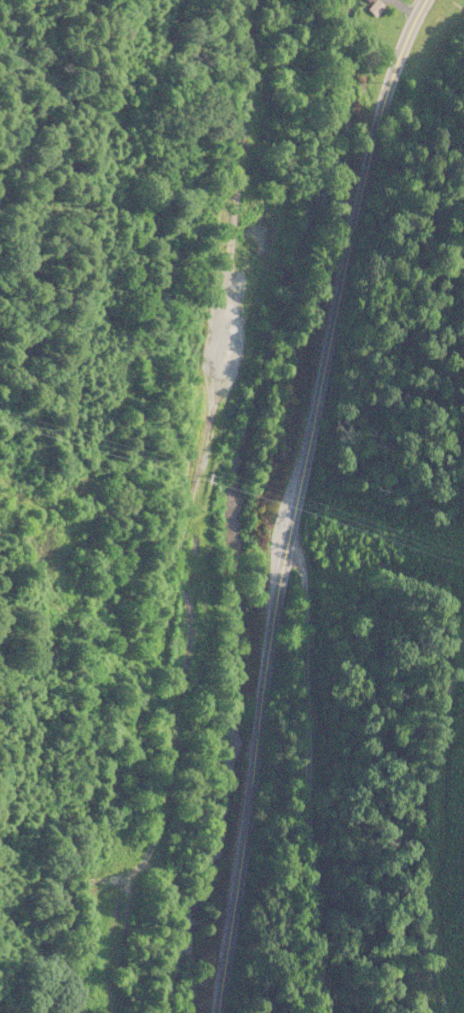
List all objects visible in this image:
building: (373, 10)
road: (295, 500)

